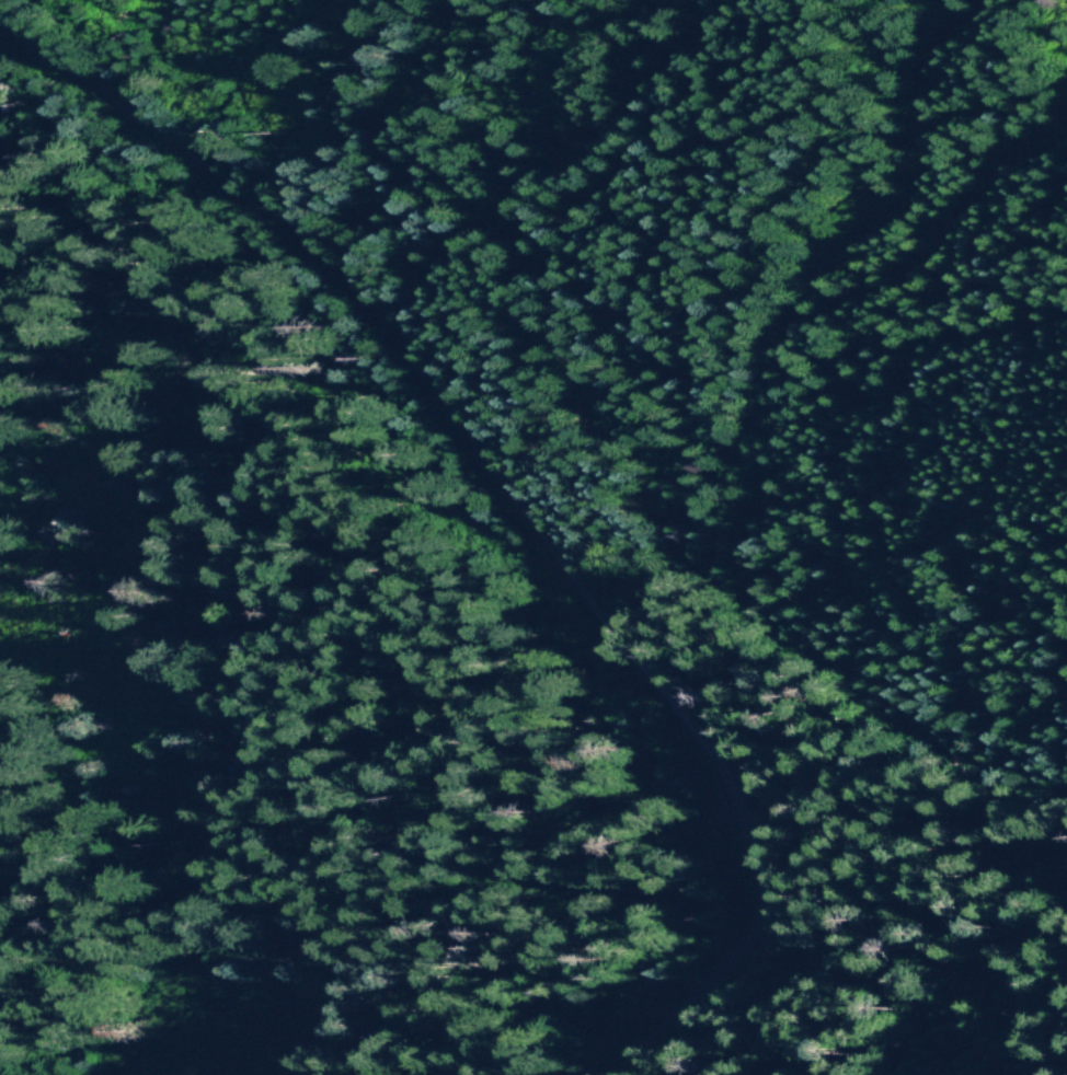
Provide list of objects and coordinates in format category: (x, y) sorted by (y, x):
road: (502, 506)

